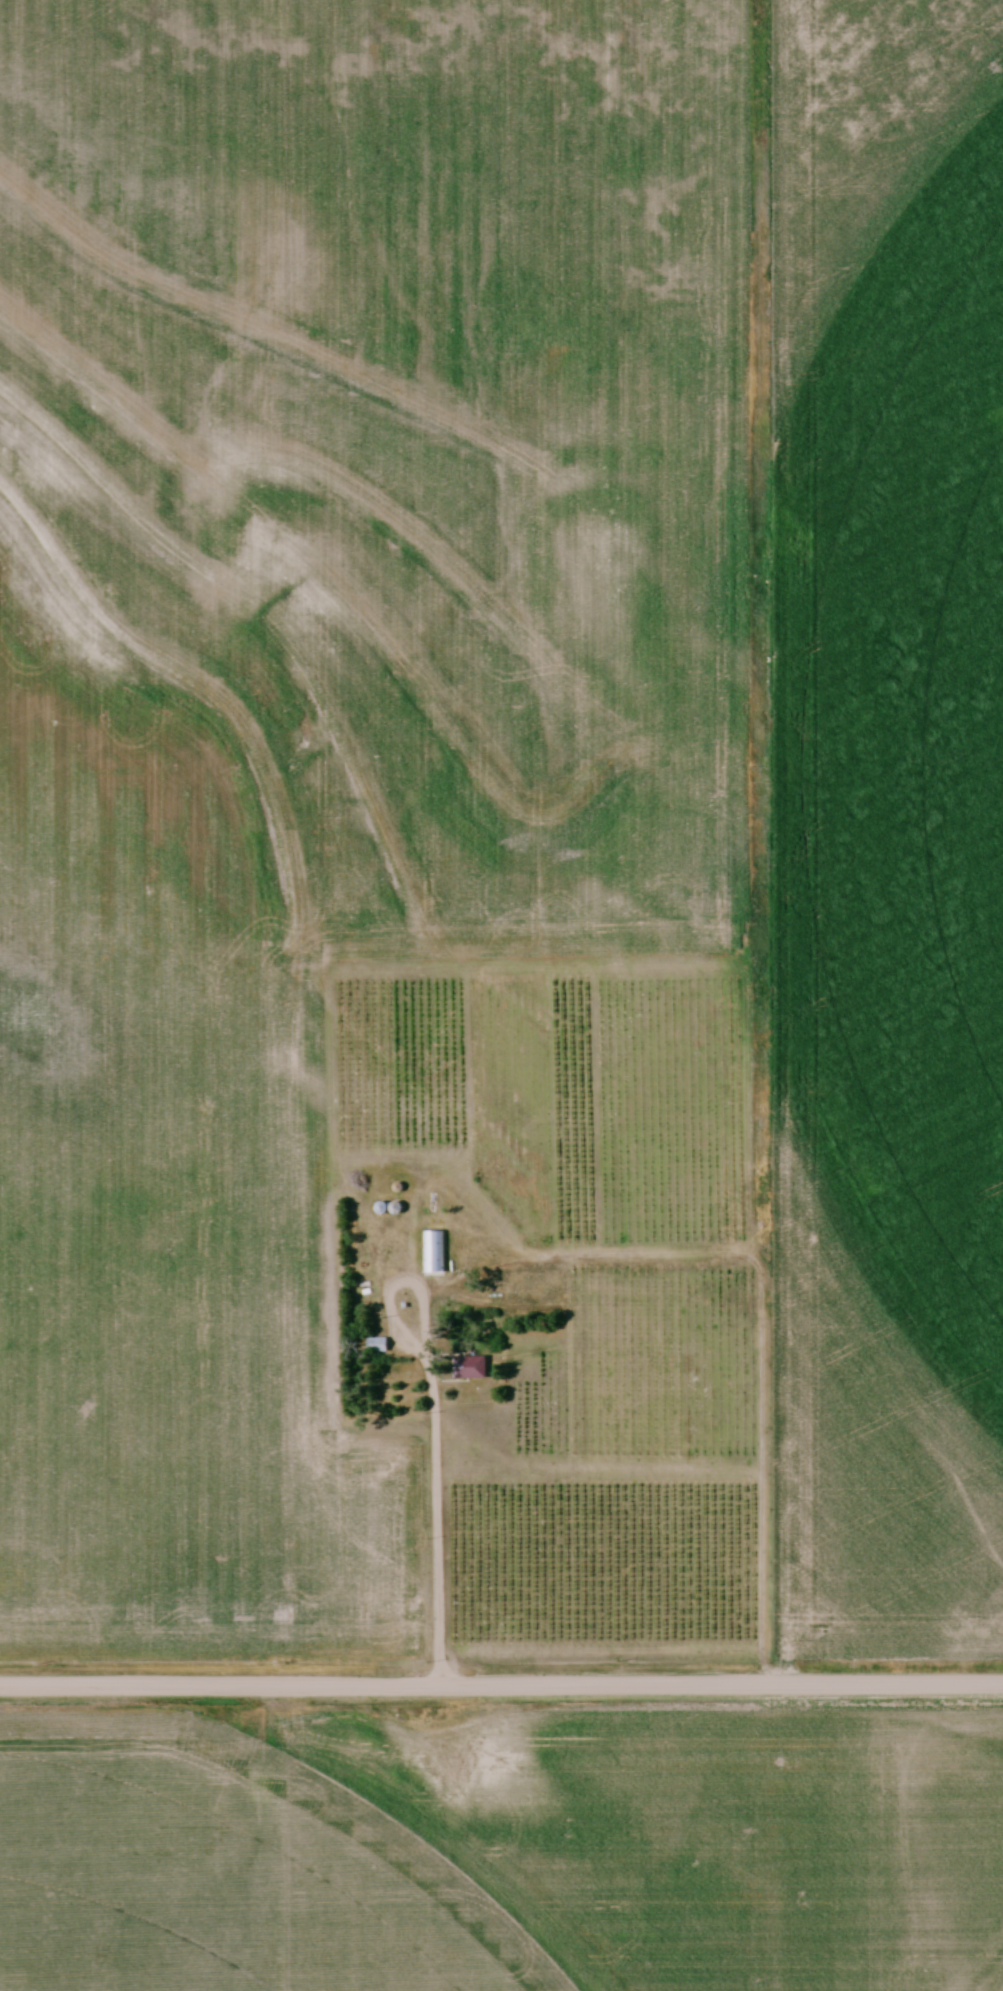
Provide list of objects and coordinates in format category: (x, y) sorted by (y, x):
building: (435, 1254)
building: (380, 1345)
building: (473, 1367)
road: (437, 1490)
road: (501, 1685)

